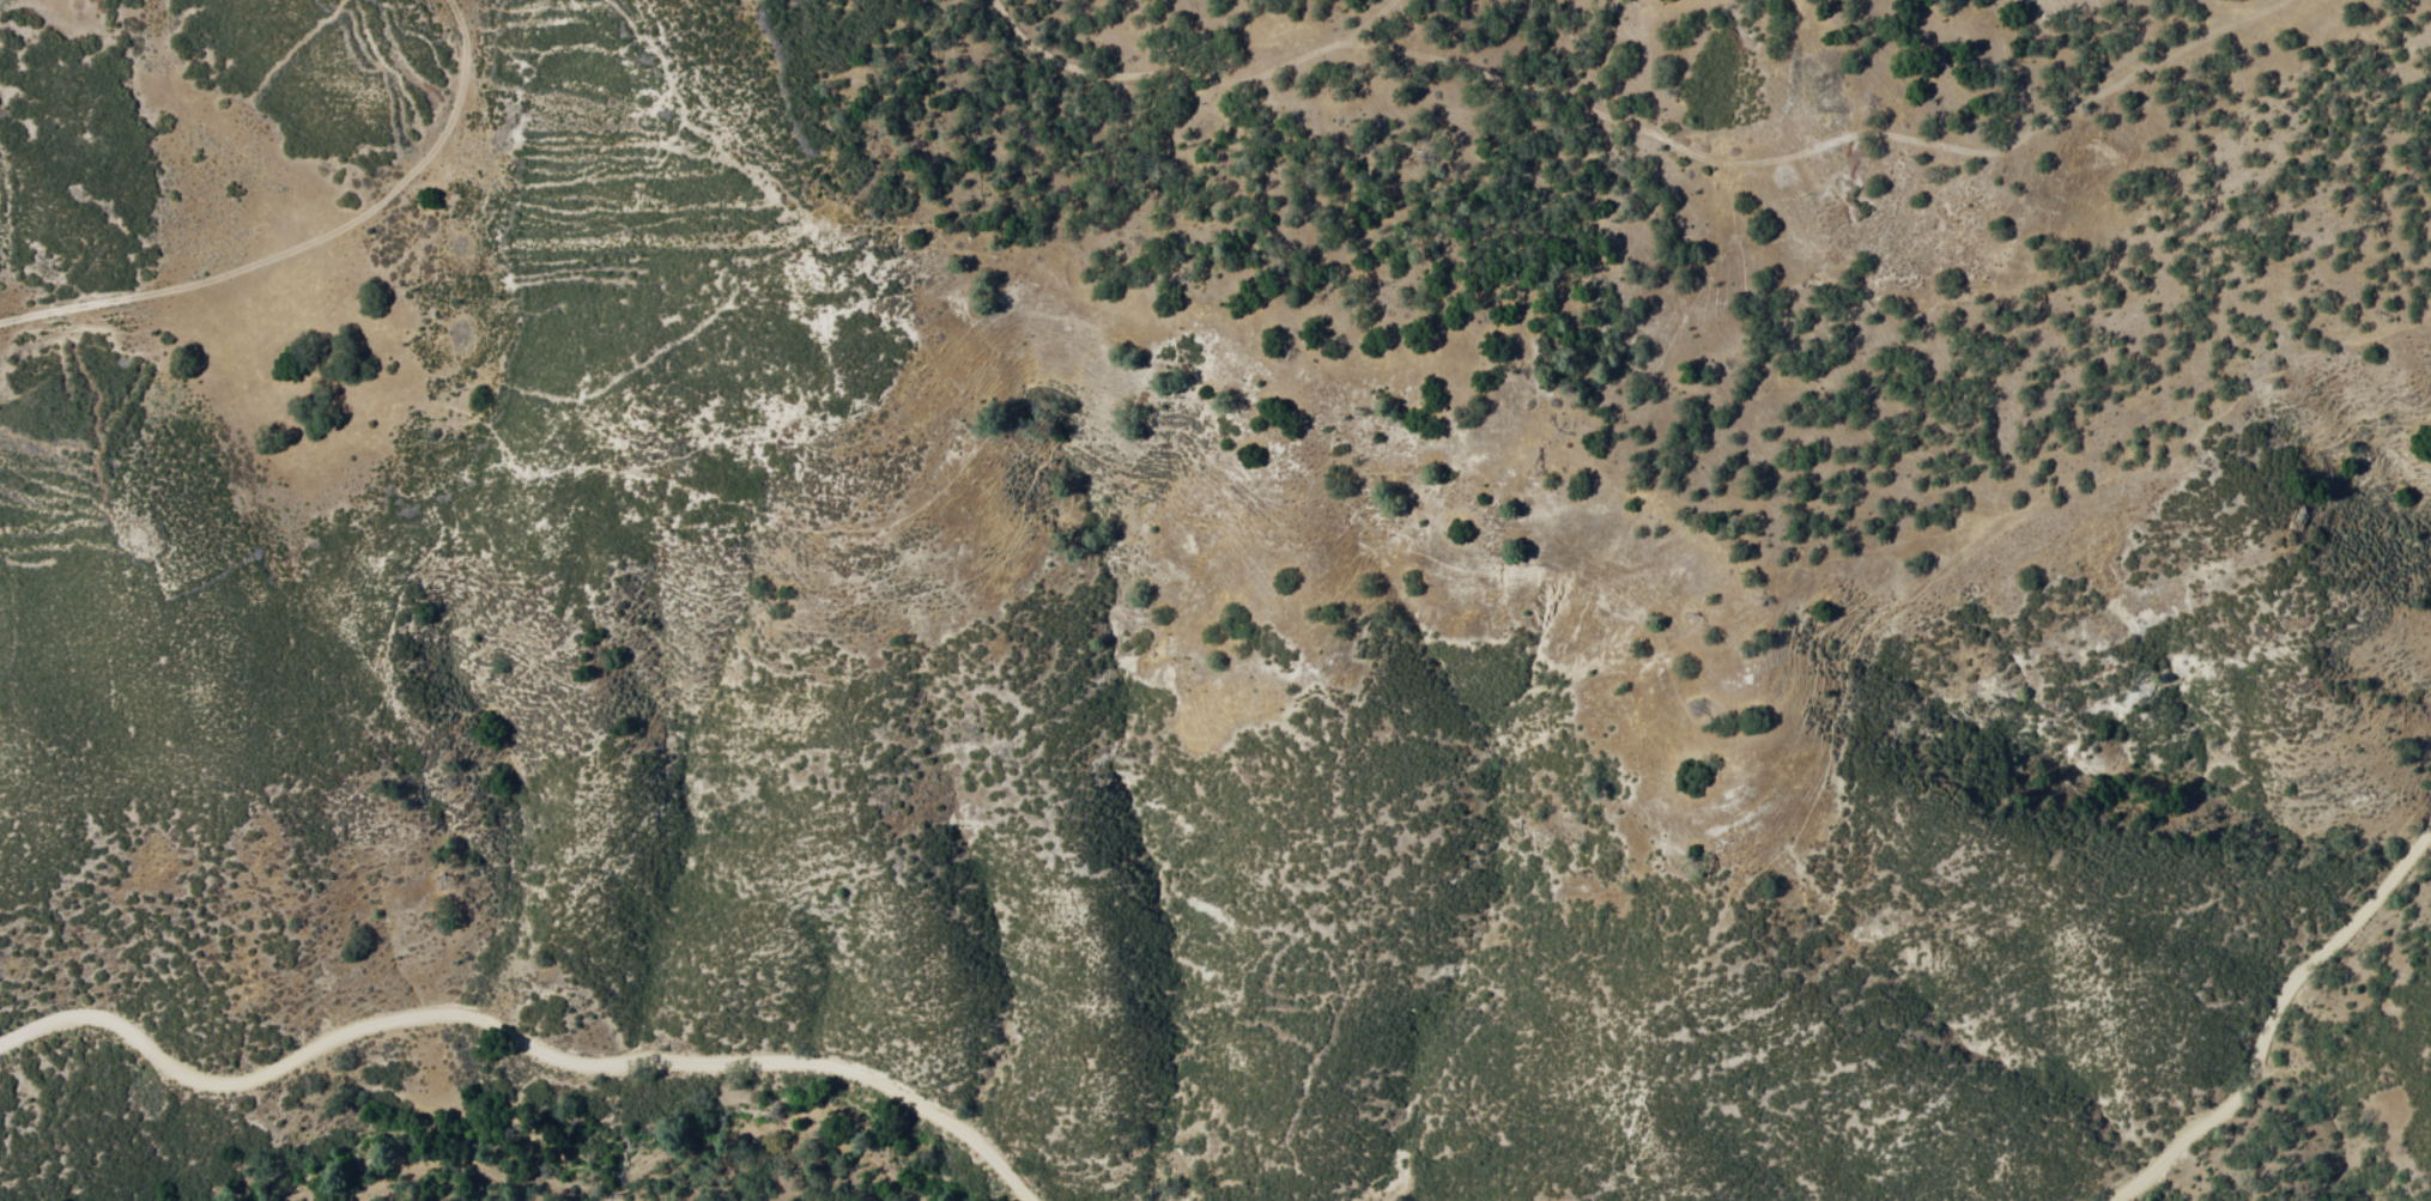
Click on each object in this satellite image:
road: (1660, 141)
road: (322, 260)
road: (2277, 1021)
road: (523, 1031)

